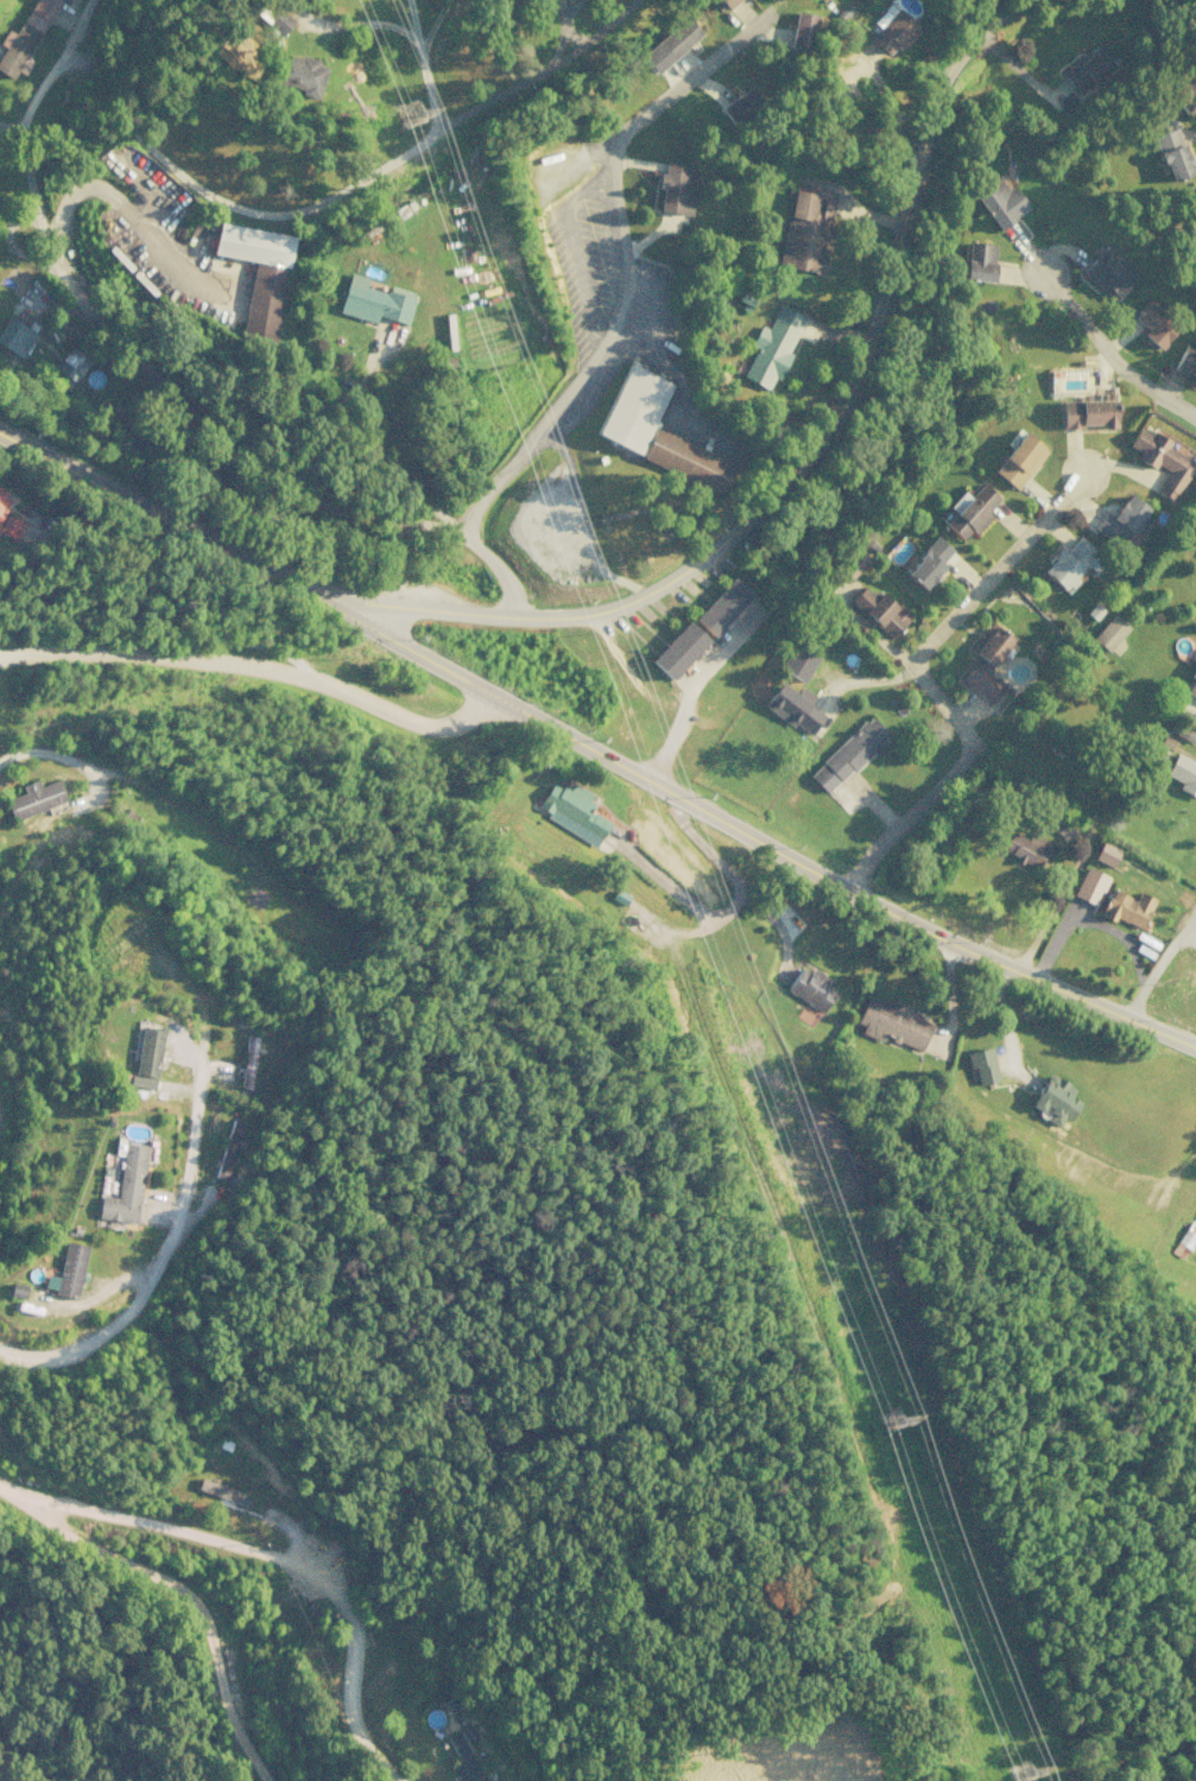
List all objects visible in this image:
building: (727, 2)
building: (279, 21)
road: (354, 24)
building: (802, 30)
building: (893, 32)
building: (24, 37)
building: (669, 44)
road: (419, 64)
building: (1086, 69)
building: (300, 72)
building: (1185, 87)
building: (740, 104)
road: (10, 128)
building: (1172, 153)
building: (675, 188)
road: (335, 192)
building: (1000, 202)
building: (805, 229)
building: (979, 261)
road: (625, 264)
building: (258, 272)
building: (1107, 274)
building: (374, 300)
building: (1153, 324)
building: (14, 336)
building: (772, 346)
road: (1108, 356)
building: (1185, 362)
building: (70, 363)
road: (160, 384)
building: (631, 407)
building: (1087, 413)
road: (806, 446)
building: (1018, 458)
building: (684, 459)
road: (372, 461)
building: (1162, 461)
building: (2, 499)
building: (970, 509)
building: (1124, 520)
building: (11, 526)
building: (1068, 560)
building: (928, 562)
building: (720, 606)
building: (879, 610)
building: (1109, 633)
building: (677, 649)
building: (1192, 655)
building: (798, 661)
building: (986, 663)
road: (254, 667)
road: (923, 679)
building: (1191, 685)
building: (793, 706)
road: (591, 750)
building: (847, 754)
building: (1183, 773)
building: (33, 798)
building: (571, 811)
building: (1062, 826)
building: (1026, 847)
building: (1105, 853)
building: (1090, 885)
building: (1127, 907)
road: (1156, 958)
building: (1189, 962)
building: (810, 988)
road: (720, 999)
building: (892, 1022)
building: (146, 1057)
building: (247, 1061)
building: (981, 1065)
road: (675, 1080)
building: (1053, 1099)
building: (227, 1148)
building: (125, 1186)
building: (1194, 1216)
building: (1188, 1235)
road: (160, 1254)
building: (68, 1270)
road: (7, 1491)
building: (221, 1491)
road: (278, 1563)
road: (185, 1598)
building: (462, 1758)

